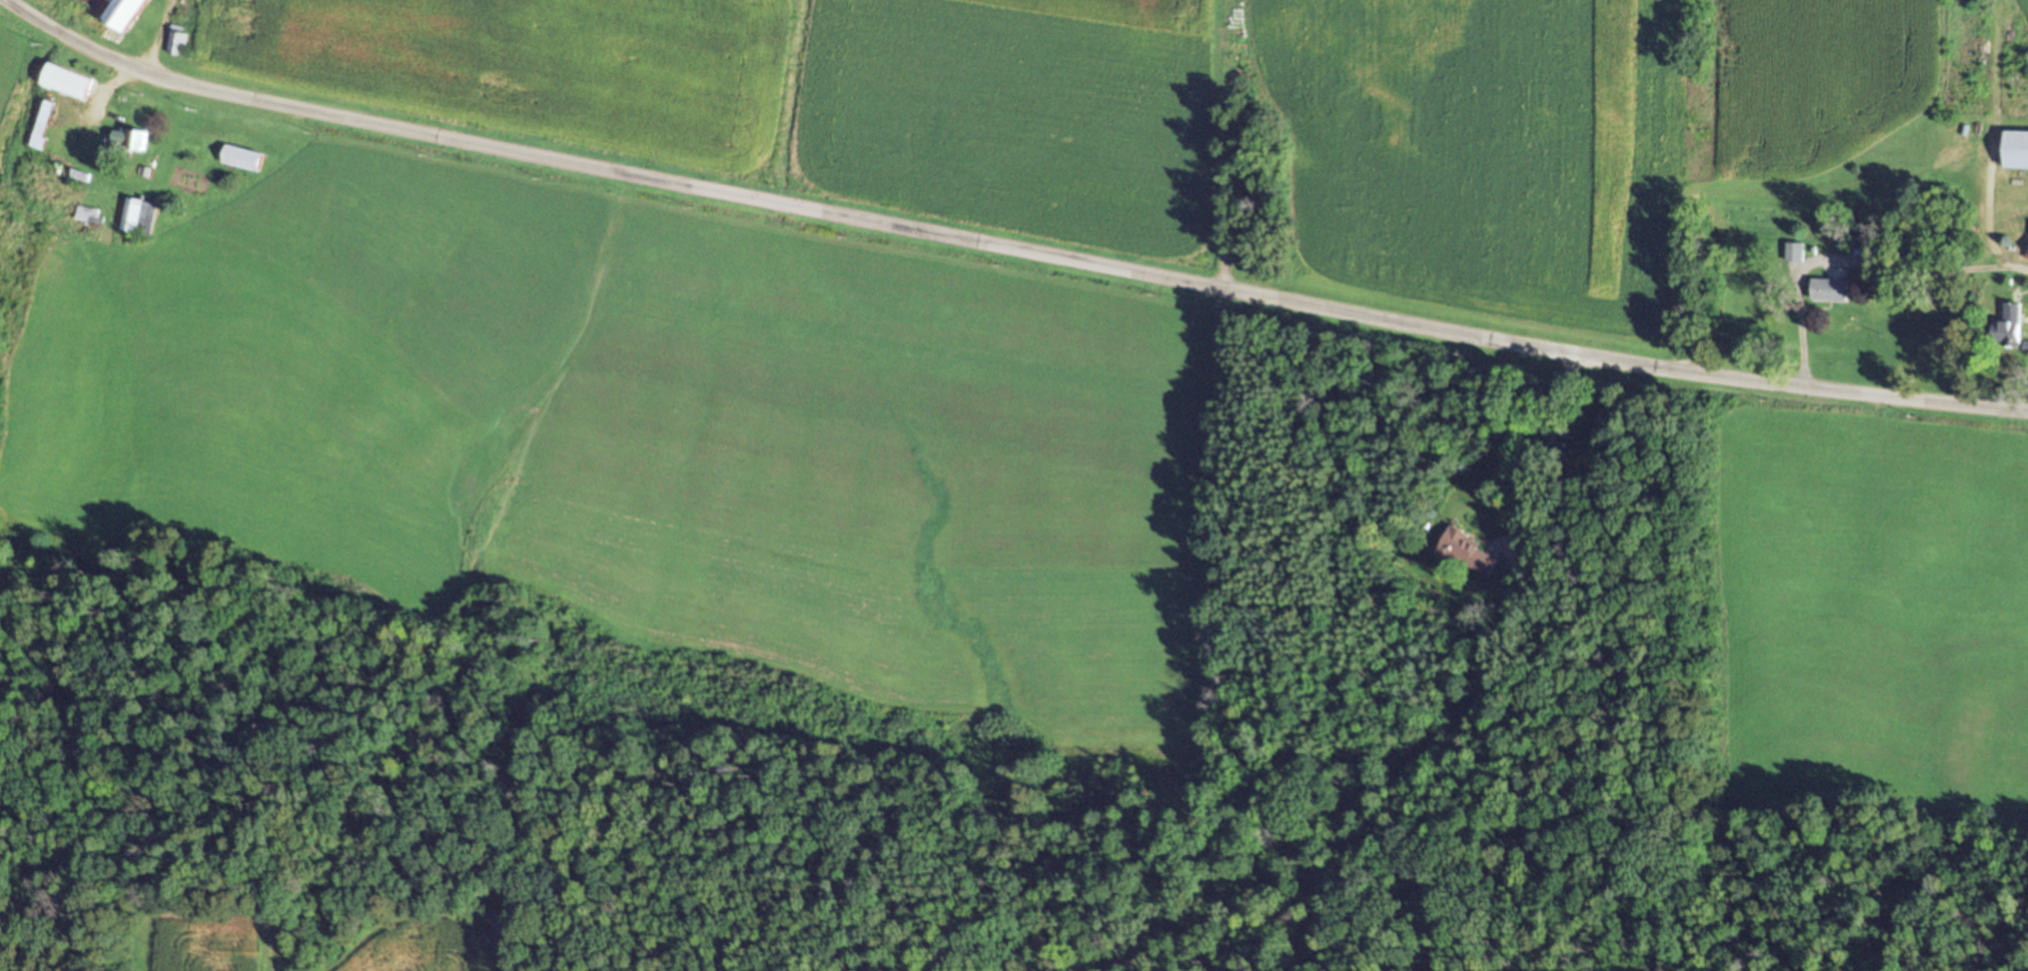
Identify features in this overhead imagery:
building: (131, 15)
building: (179, 46)
building: (70, 86)
building: (45, 129)
building: (131, 143)
building: (2019, 154)
building: (242, 162)
building: (90, 219)
road: (1006, 248)
building: (1798, 256)
building: (1835, 294)
building: (2014, 329)
building: (1468, 557)
road: (1446, 755)

